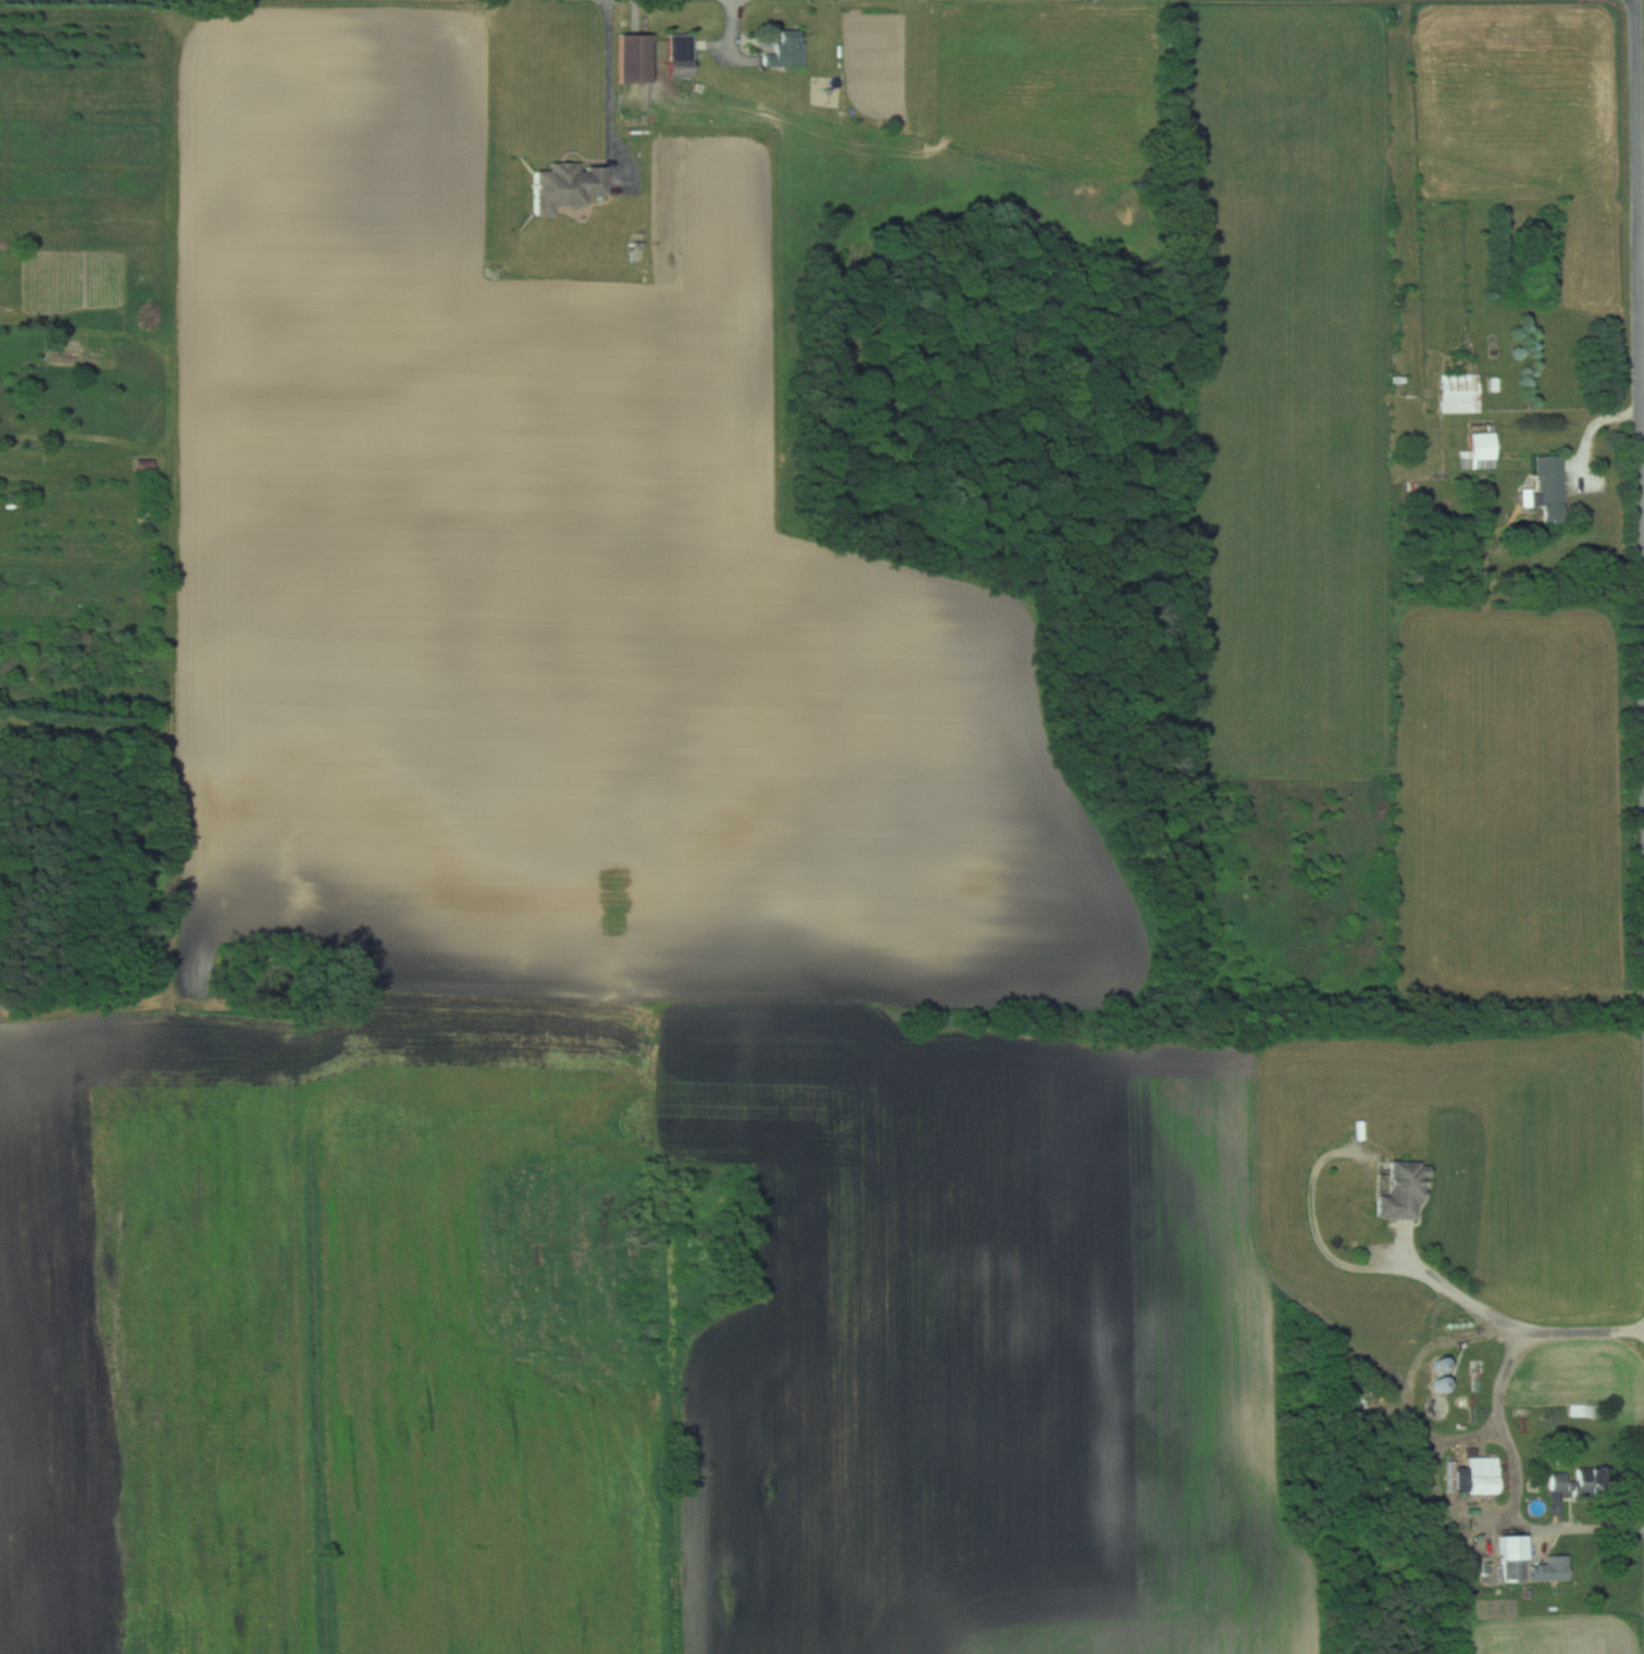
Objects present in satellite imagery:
building: (784, 51)
building: (634, 53)
building: (676, 55)
road: (625, 83)
road: (1641, 171)
building: (566, 186)
building: (1459, 394)
road: (1593, 432)
building: (1481, 442)
building: (141, 465)
building: (1549, 489)
building: (1400, 1191)
road: (1457, 1293)
building: (1434, 1407)
road: (1500, 1432)
building: (1477, 1477)
building: (1575, 1482)
building: (1511, 1558)
building: (1550, 1569)

